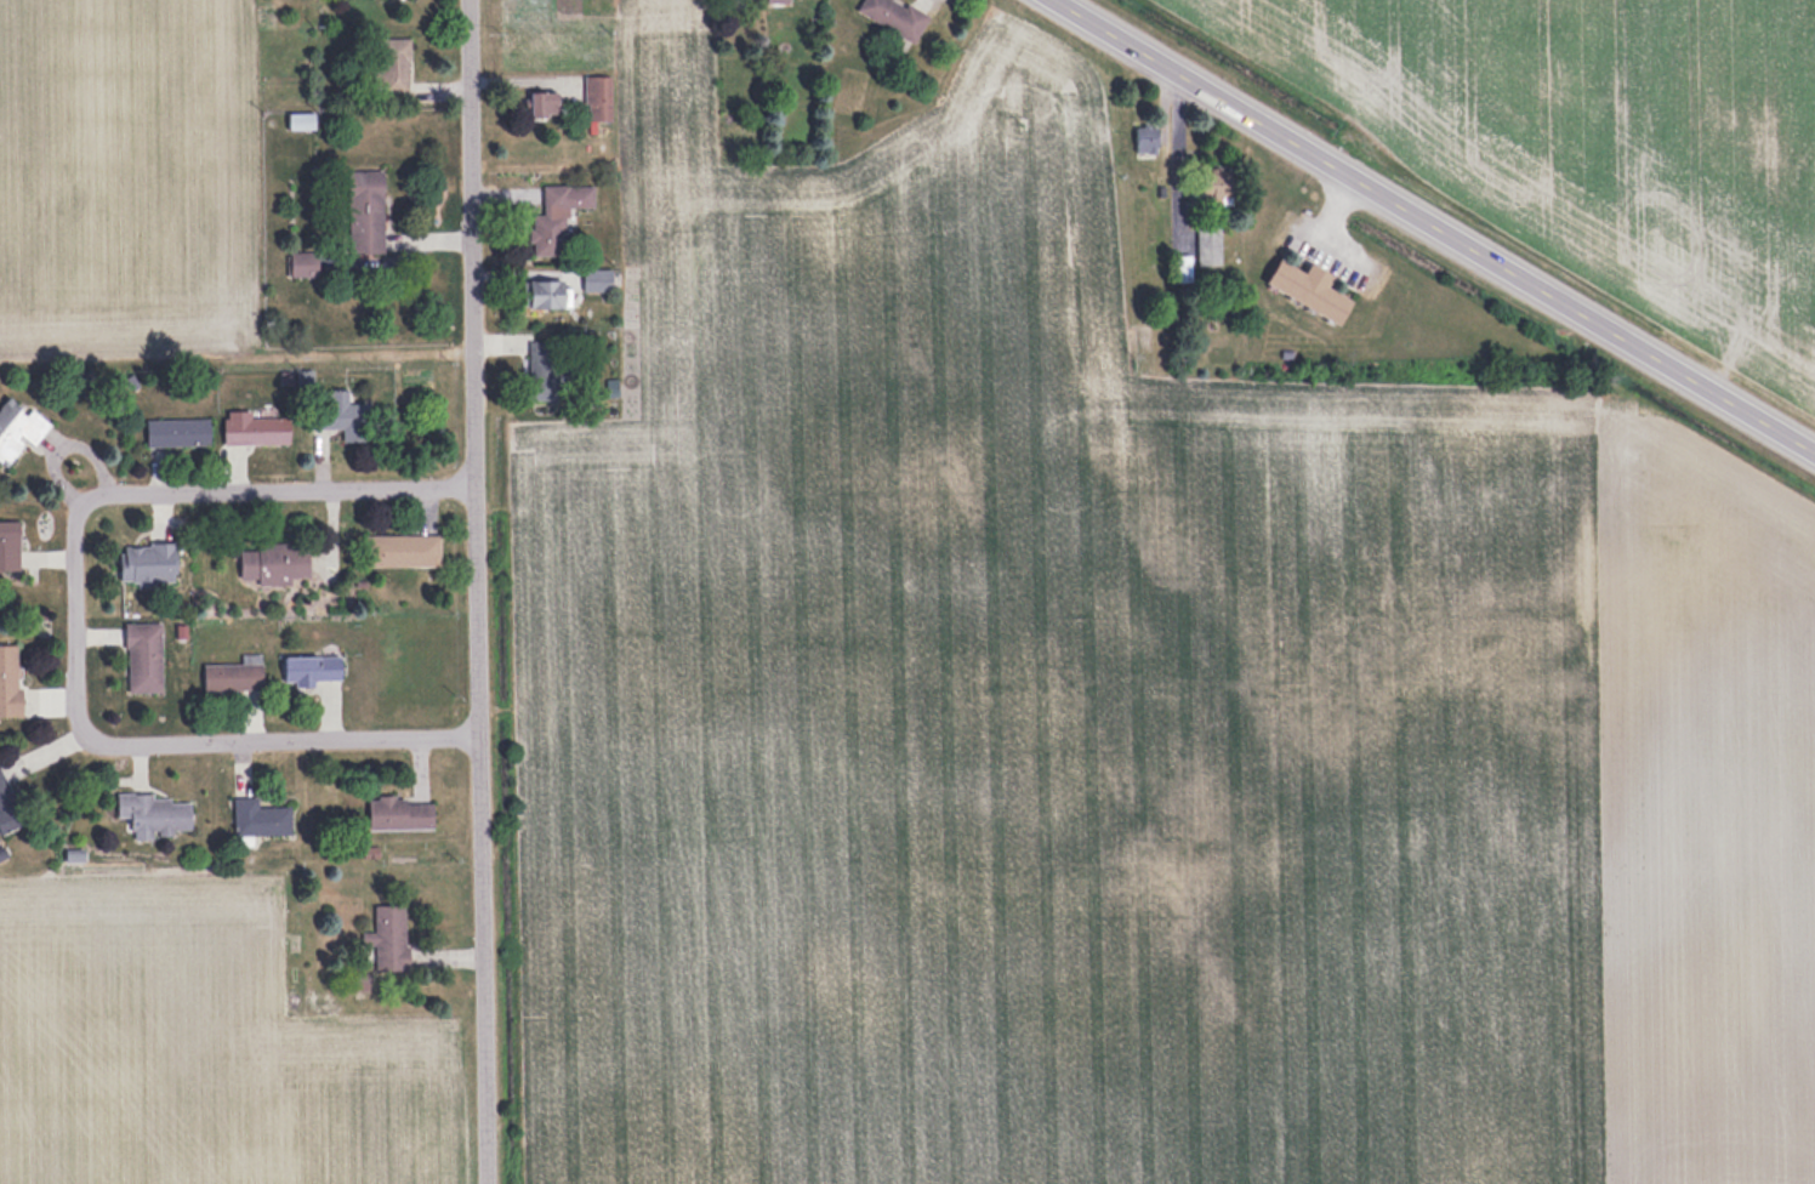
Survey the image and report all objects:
building: (776, 1)
building: (893, 17)
building: (393, 64)
building: (597, 98)
building: (542, 103)
building: (300, 120)
building: (1145, 141)
building: (1214, 186)
building: (364, 212)
building: (557, 217)
road: (1434, 226)
building: (1207, 241)
building: (300, 263)
building: (596, 279)
building: (1307, 288)
building: (546, 292)
building: (544, 369)
building: (343, 416)
building: (254, 428)
building: (16, 429)
building: (176, 431)
building: (8, 548)
building: (402, 551)
building: (146, 562)
building: (274, 563)
road: (479, 592)
road: (76, 621)
building: (142, 656)
building: (311, 670)
building: (228, 677)
building: (8, 681)
building: (7, 808)
building: (153, 814)
building: (397, 814)
building: (258, 818)
building: (387, 938)

